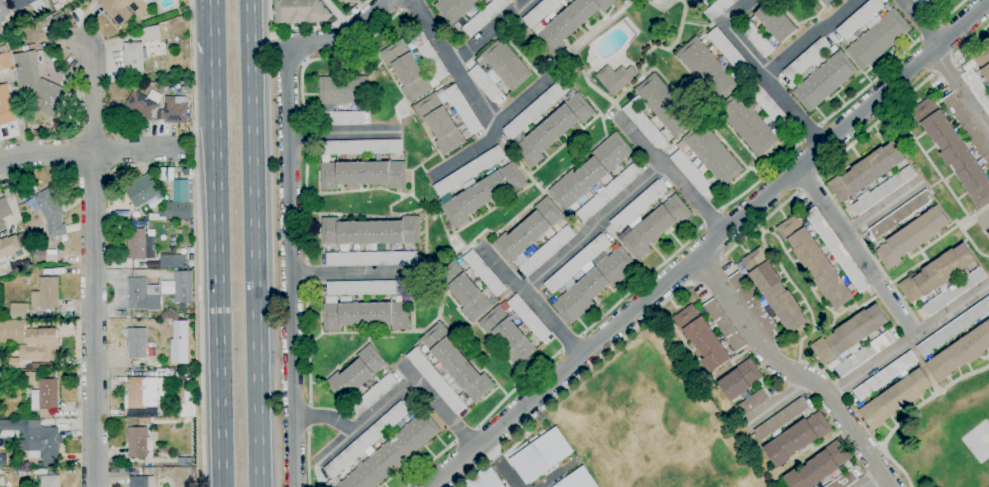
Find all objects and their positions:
building: (695, 3)
building: (829, 3)
building: (920, 3)
building: (28, 4)
building: (57, 6)
road: (405, 6)
building: (125, 9)
road: (213, 9)
building: (718, 9)
building: (3, 10)
building: (300, 11)
road: (951, 11)
building: (540, 12)
road: (740, 12)
road: (248, 16)
road: (268, 17)
building: (60, 19)
building: (480, 20)
building: (569, 22)
road: (921, 22)
road: (937, 24)
road: (325, 25)
building: (12, 28)
building: (769, 28)
building: (1, 29)
road: (491, 30)
road: (929, 32)
building: (152, 33)
road: (262, 33)
road: (343, 33)
building: (872, 33)
road: (810, 36)
road: (920, 38)
road: (971, 40)
road: (291, 48)
building: (728, 50)
building: (140, 55)
building: (430, 55)
road: (329, 56)
road: (952, 57)
building: (806, 60)
building: (5, 62)
road: (454, 66)
road: (942, 66)
building: (24, 69)
building: (706, 69)
building: (406, 70)
building: (499, 70)
road: (933, 73)
building: (615, 78)
building: (979, 79)
building: (824, 81)
road: (870, 83)
road: (771, 86)
building: (343, 90)
road: (960, 90)
building: (49, 98)
road: (92, 99)
building: (144, 104)
building: (664, 105)
building: (769, 105)
building: (6, 106)
building: (175, 109)
building: (536, 109)
building: (344, 118)
building: (447, 118)
road: (302, 121)
building: (747, 123)
building: (643, 124)
road: (875, 124)
road: (819, 126)
building: (968, 127)
building: (553, 129)
road: (305, 132)
road: (343, 132)
road: (494, 133)
road: (811, 133)
road: (803, 140)
road: (307, 144)
building: (362, 147)
building: (954, 151)
road: (90, 152)
building: (705, 159)
building: (469, 171)
road: (670, 171)
building: (186, 172)
building: (590, 172)
building: (866, 172)
building: (363, 174)
road: (816, 175)
road: (762, 177)
road: (807, 181)
road: (798, 190)
building: (882, 190)
building: (145, 192)
building: (608, 193)
building: (25, 194)
building: (482, 194)
road: (304, 203)
building: (638, 206)
road: (883, 208)
building: (177, 211)
road: (719, 211)
building: (4, 212)
building: (51, 213)
building: (123, 213)
building: (136, 214)
building: (901, 214)
road: (711, 219)
road: (986, 220)
road: (760, 223)
road: (703, 225)
road: (594, 226)
building: (654, 226)
building: (371, 232)
building: (912, 237)
building: (534, 238)
road: (198, 243)
building: (136, 244)
road: (709, 244)
building: (10, 247)
building: (837, 250)
road: (856, 251)
road: (217, 253)
road: (721, 256)
road: (254, 259)
building: (370, 259)
building: (172, 262)
building: (815, 262)
building: (20, 265)
road: (290, 267)
road: (707, 270)
building: (937, 273)
road: (307, 274)
road: (345, 274)
building: (588, 278)
road: (643, 281)
road: (693, 283)
building: (470, 285)
building: (183, 286)
building: (365, 288)
building: (774, 290)
building: (954, 291)
building: (46, 293)
building: (143, 295)
road: (535, 302)
building: (755, 306)
building: (19, 311)
building: (366, 315)
building: (529, 317)
road: (93, 319)
building: (142, 324)
building: (724, 325)
building: (954, 327)
building: (12, 331)
building: (508, 335)
building: (849, 335)
road: (581, 336)
building: (702, 338)
road: (908, 339)
road: (306, 342)
road: (570, 343)
building: (40, 345)
building: (139, 349)
road: (561, 350)
building: (961, 352)
building: (864, 355)
building: (14, 363)
building: (455, 363)
road: (794, 372)
building: (356, 374)
building: (885, 376)
building: (30, 377)
building: (740, 379)
building: (436, 381)
road: (570, 383)
road: (518, 386)
building: (142, 392)
building: (374, 395)
building: (45, 397)
building: (895, 398)
road: (779, 402)
road: (308, 403)
building: (752, 403)
road: (436, 404)
building: (185, 405)
road: (908, 413)
road: (307, 416)
building: (781, 419)
road: (359, 426)
road: (476, 426)
road: (306, 431)
road: (464, 434)
building: (35, 438)
building: (797, 438)
park: (977, 440)
road: (453, 441)
building: (138, 442)
road: (334, 447)
building: (384, 448)
road: (875, 450)
building: (540, 455)
road: (306, 460)
building: (187, 462)
road: (427, 463)
building: (819, 466)
building: (483, 478)
building: (577, 479)
building: (844, 480)
road: (872, 480)
building: (50, 481)
building: (141, 481)

